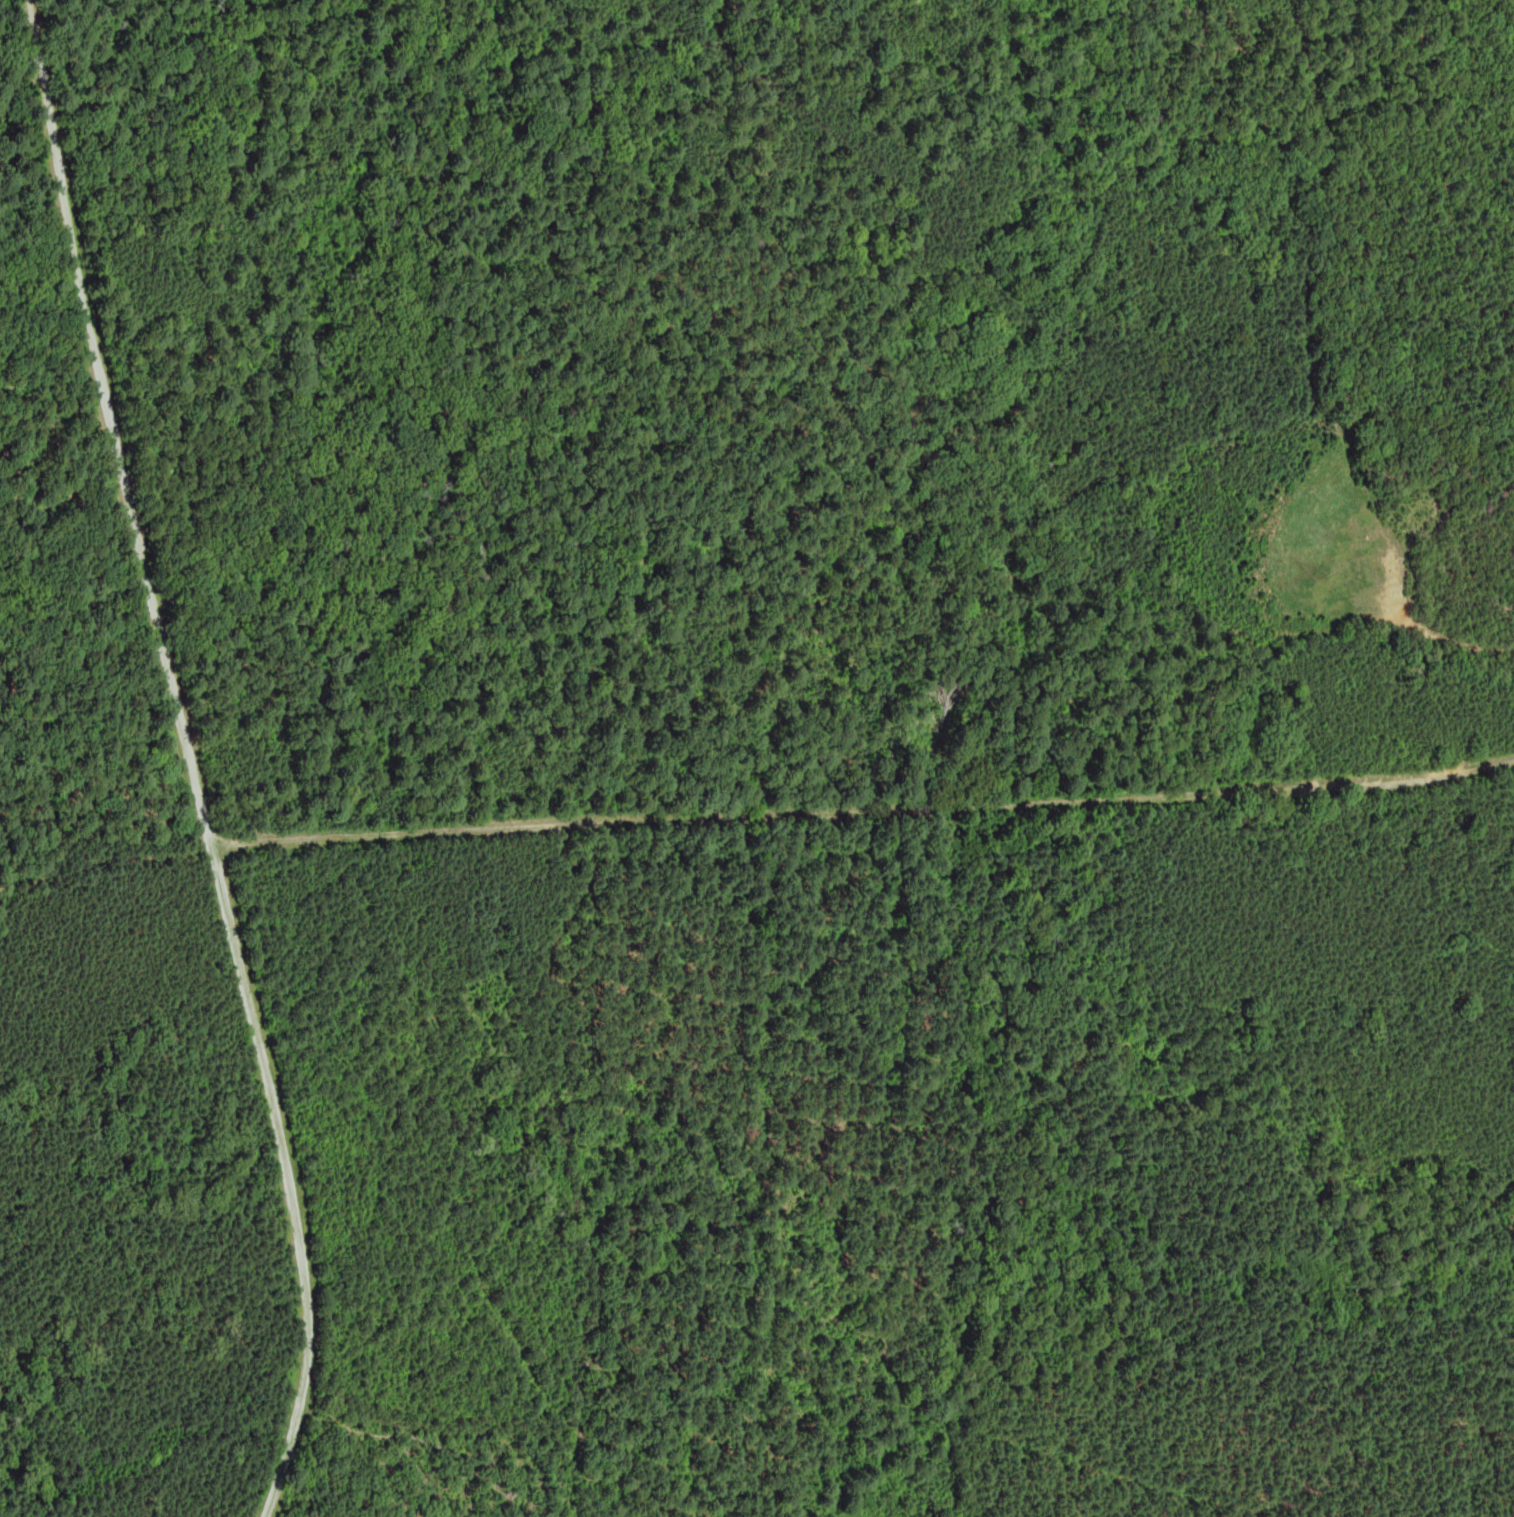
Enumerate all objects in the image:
road: (190, 759)
road: (865, 833)

